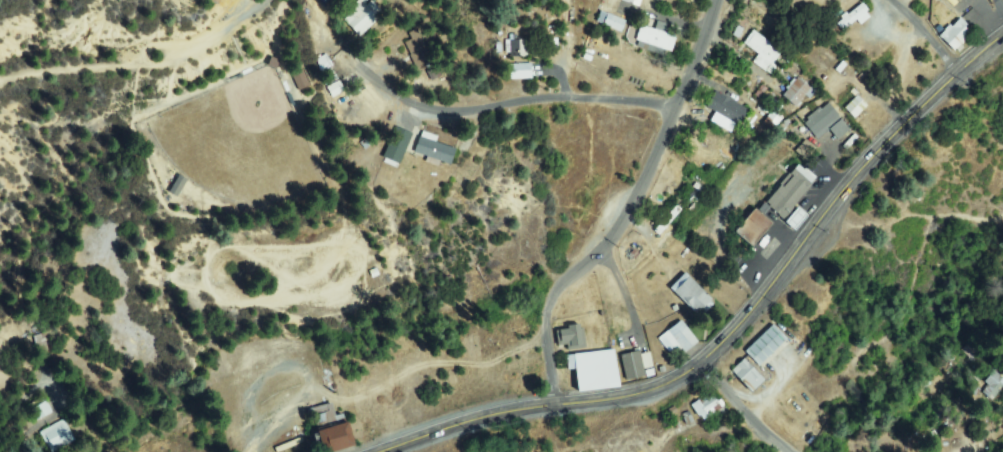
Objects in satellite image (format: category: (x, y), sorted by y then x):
building: (633, 2)
building: (364, 16)
building: (853, 17)
building: (611, 22)
road: (923, 35)
building: (956, 36)
building: (654, 39)
building: (518, 48)
building: (417, 50)
building: (763, 51)
building: (324, 63)
road: (143, 64)
building: (521, 71)
building: (301, 81)
building: (335, 89)
building: (796, 92)
road: (535, 100)
building: (856, 107)
building: (727, 108)
building: (772, 119)
building: (876, 121)
building: (826, 122)
building: (397, 147)
building: (434, 150)
building: (806, 150)
park: (480, 163)
building: (178, 186)
building: (791, 191)
road: (630, 210)
building: (796, 219)
building: (665, 222)
building: (753, 228)
building: (692, 296)
road: (737, 322)
building: (571, 337)
building: (682, 338)
building: (766, 346)
building: (632, 365)
building: (592, 372)
building: (748, 376)
building: (994, 385)
building: (706, 406)
road: (749, 408)
building: (41, 410)
building: (332, 432)
building: (57, 437)

